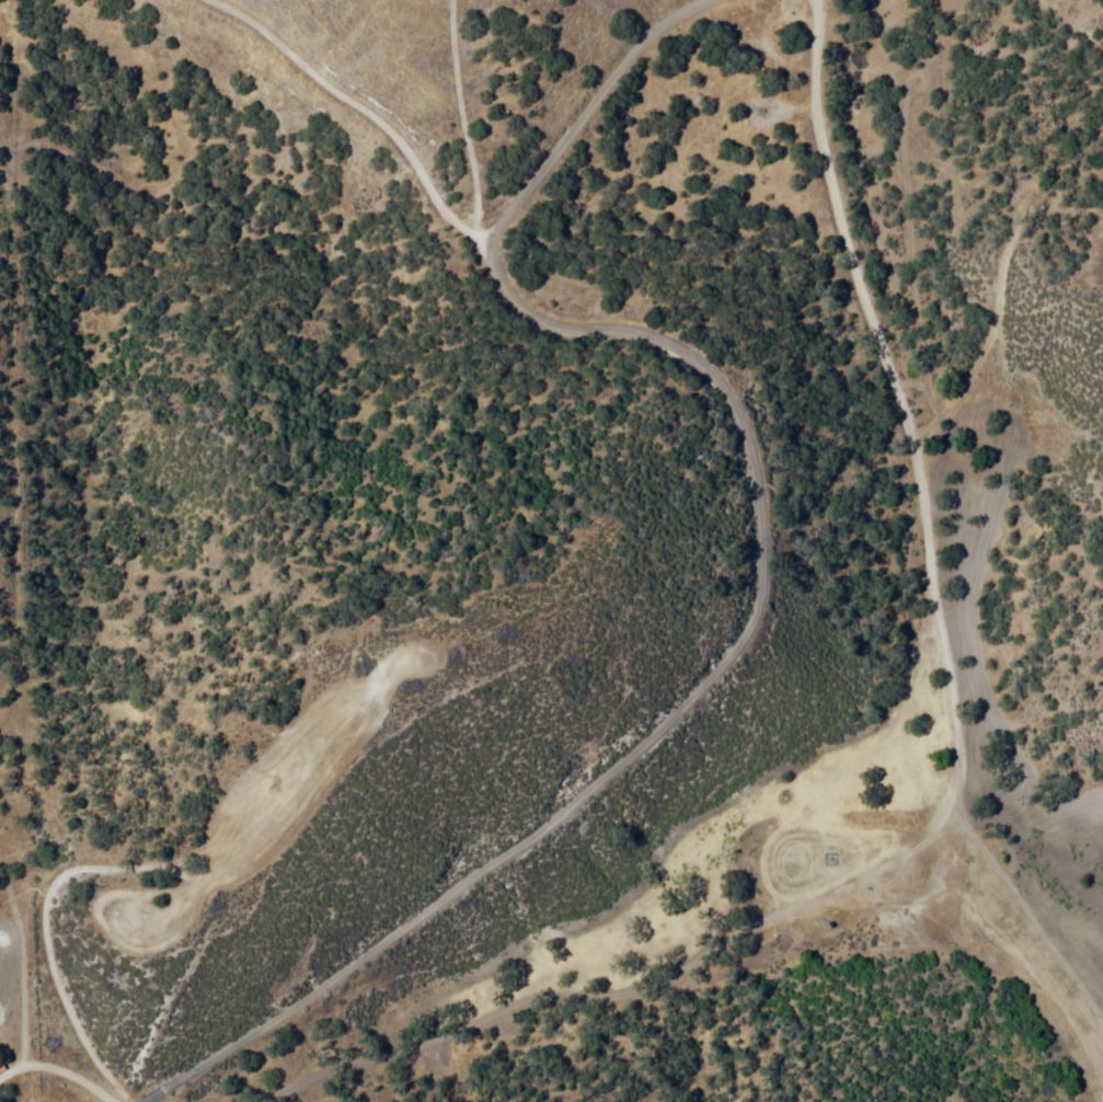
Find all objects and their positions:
road: (933, 537)
road: (715, 628)
road: (129, 1100)

